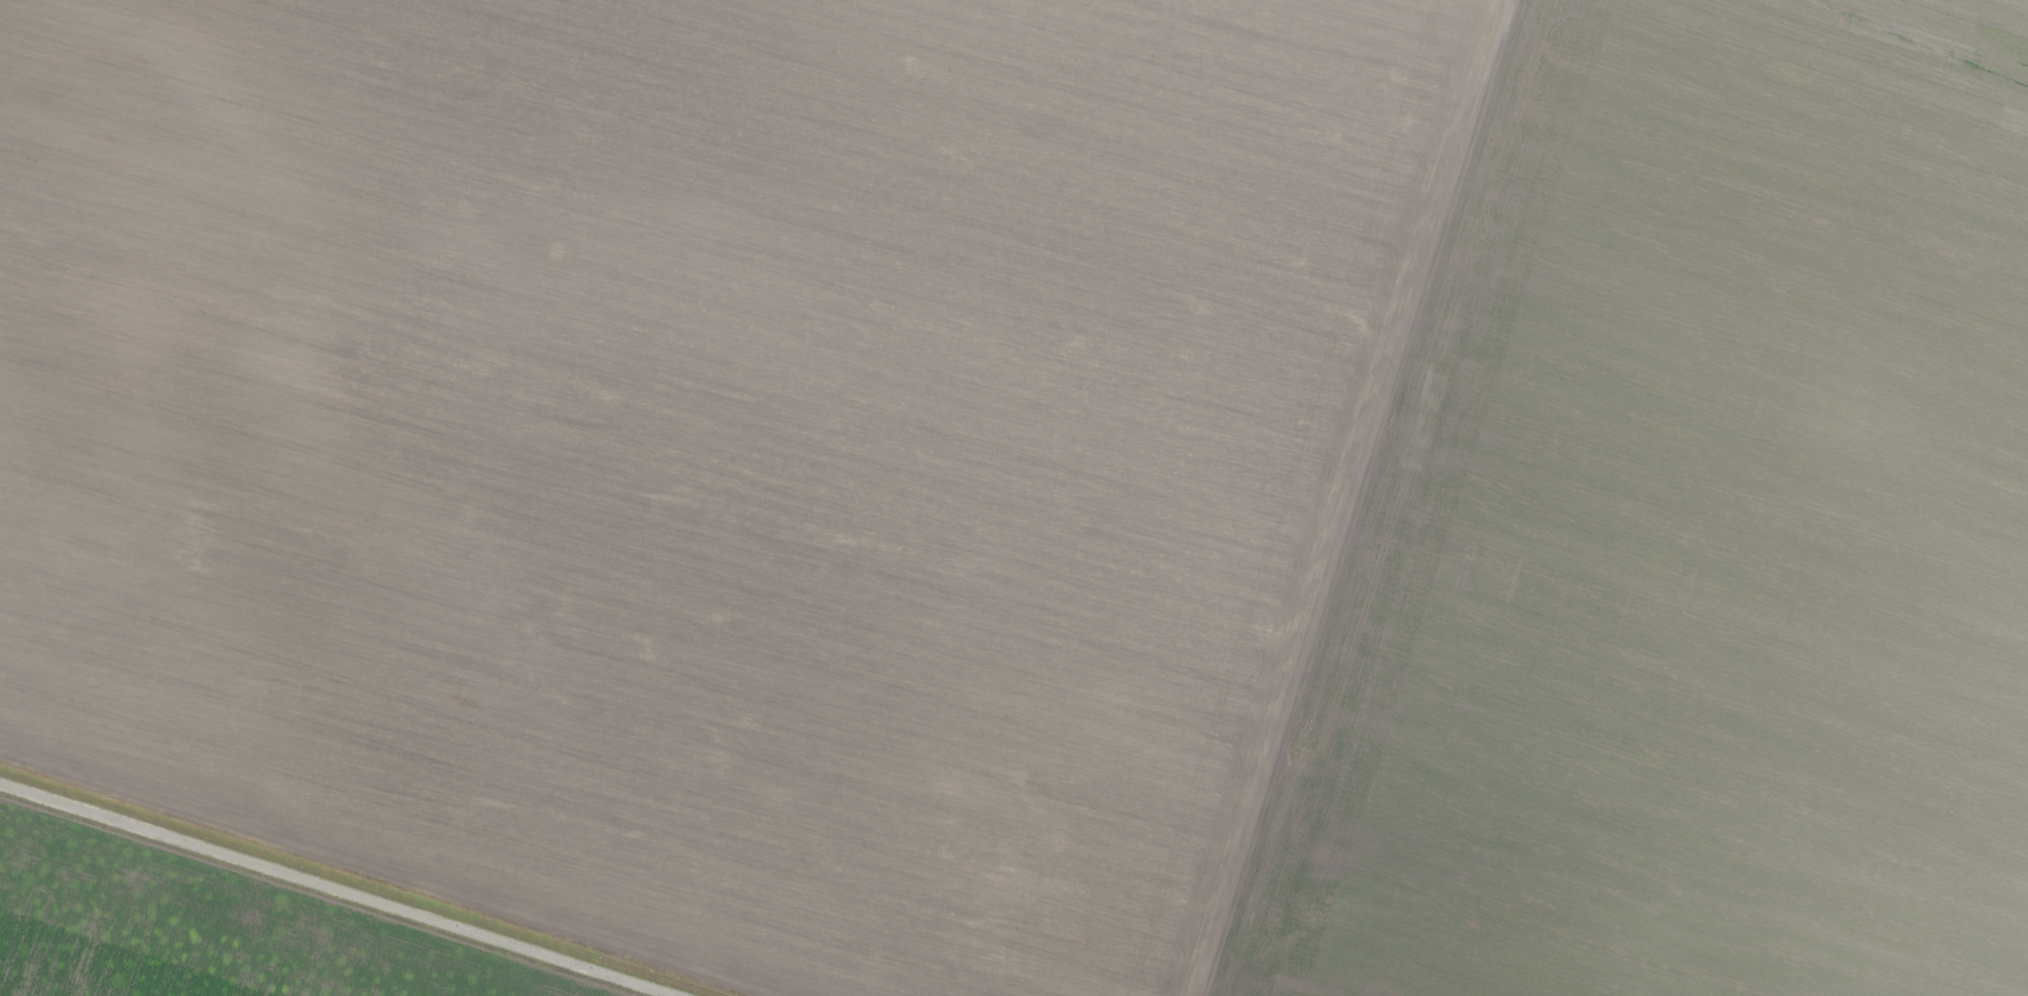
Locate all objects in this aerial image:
road: (1340, 498)
road: (370, 877)

